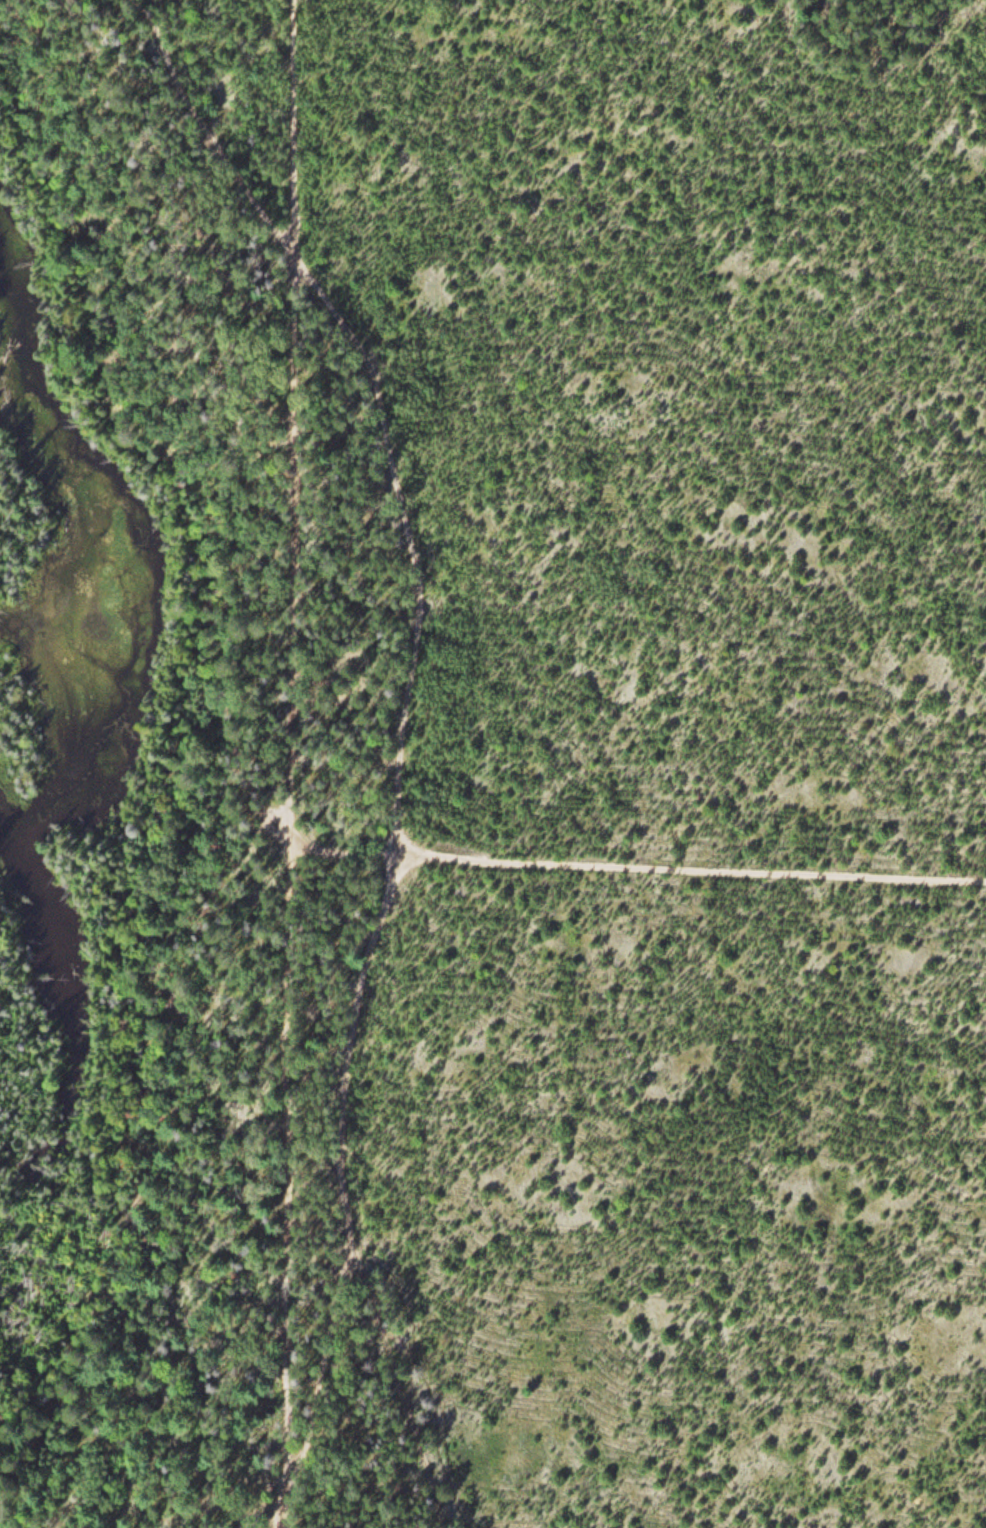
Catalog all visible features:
road: (394, 708)
road: (296, 764)
road: (634, 860)
road: (356, 1468)
road: (257, 1507)

